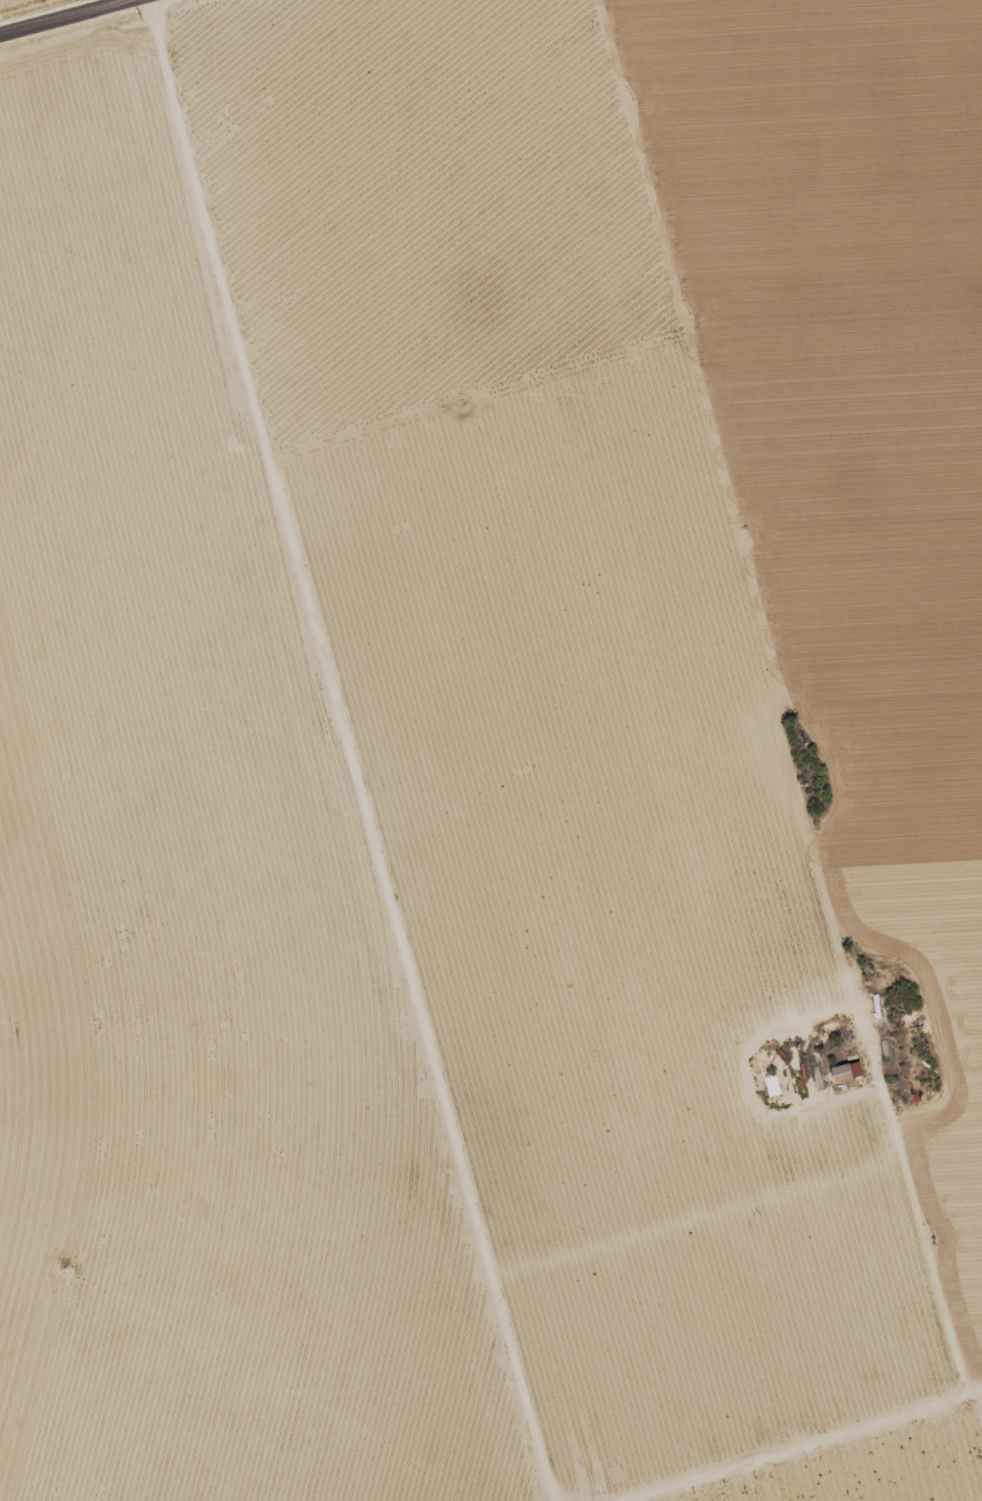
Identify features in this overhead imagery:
road: (67, 18)
road: (363, 751)
building: (772, 1083)

